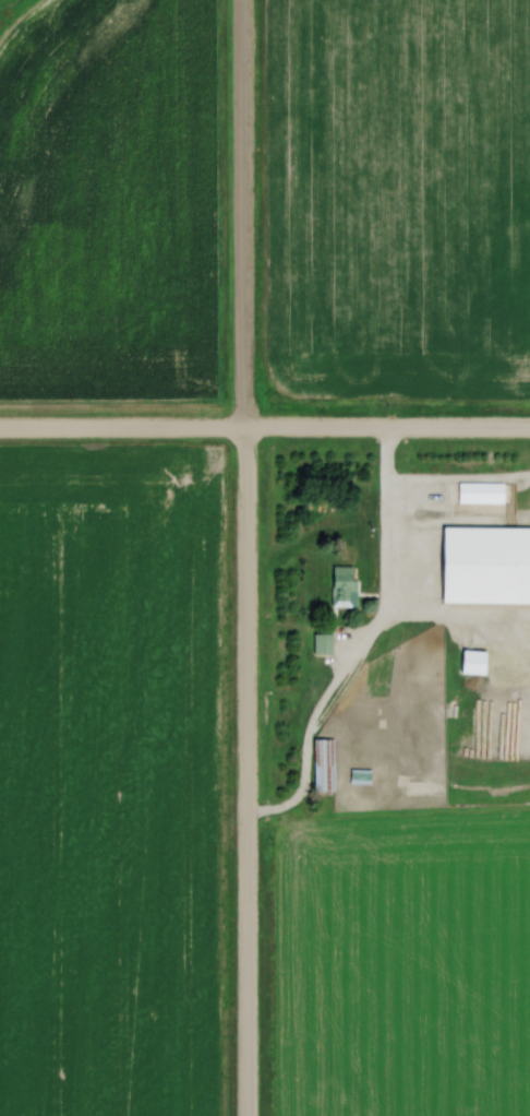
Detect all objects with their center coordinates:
road: (265, 428)
building: (482, 491)
building: (431, 494)
road: (243, 558)
building: (345, 581)
road: (382, 595)
building: (324, 642)
building: (325, 763)

